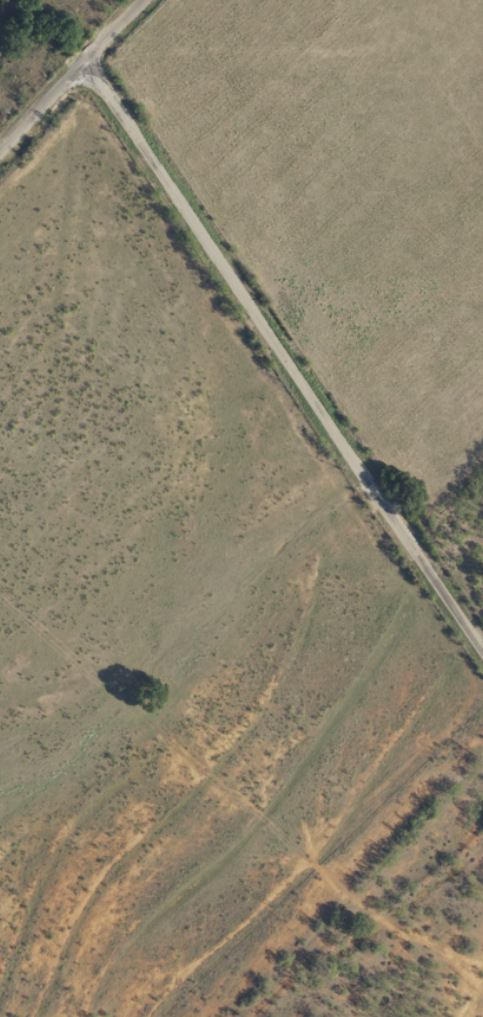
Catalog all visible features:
road: (98, 42)
road: (34, 110)
road: (281, 398)
road: (349, 906)

